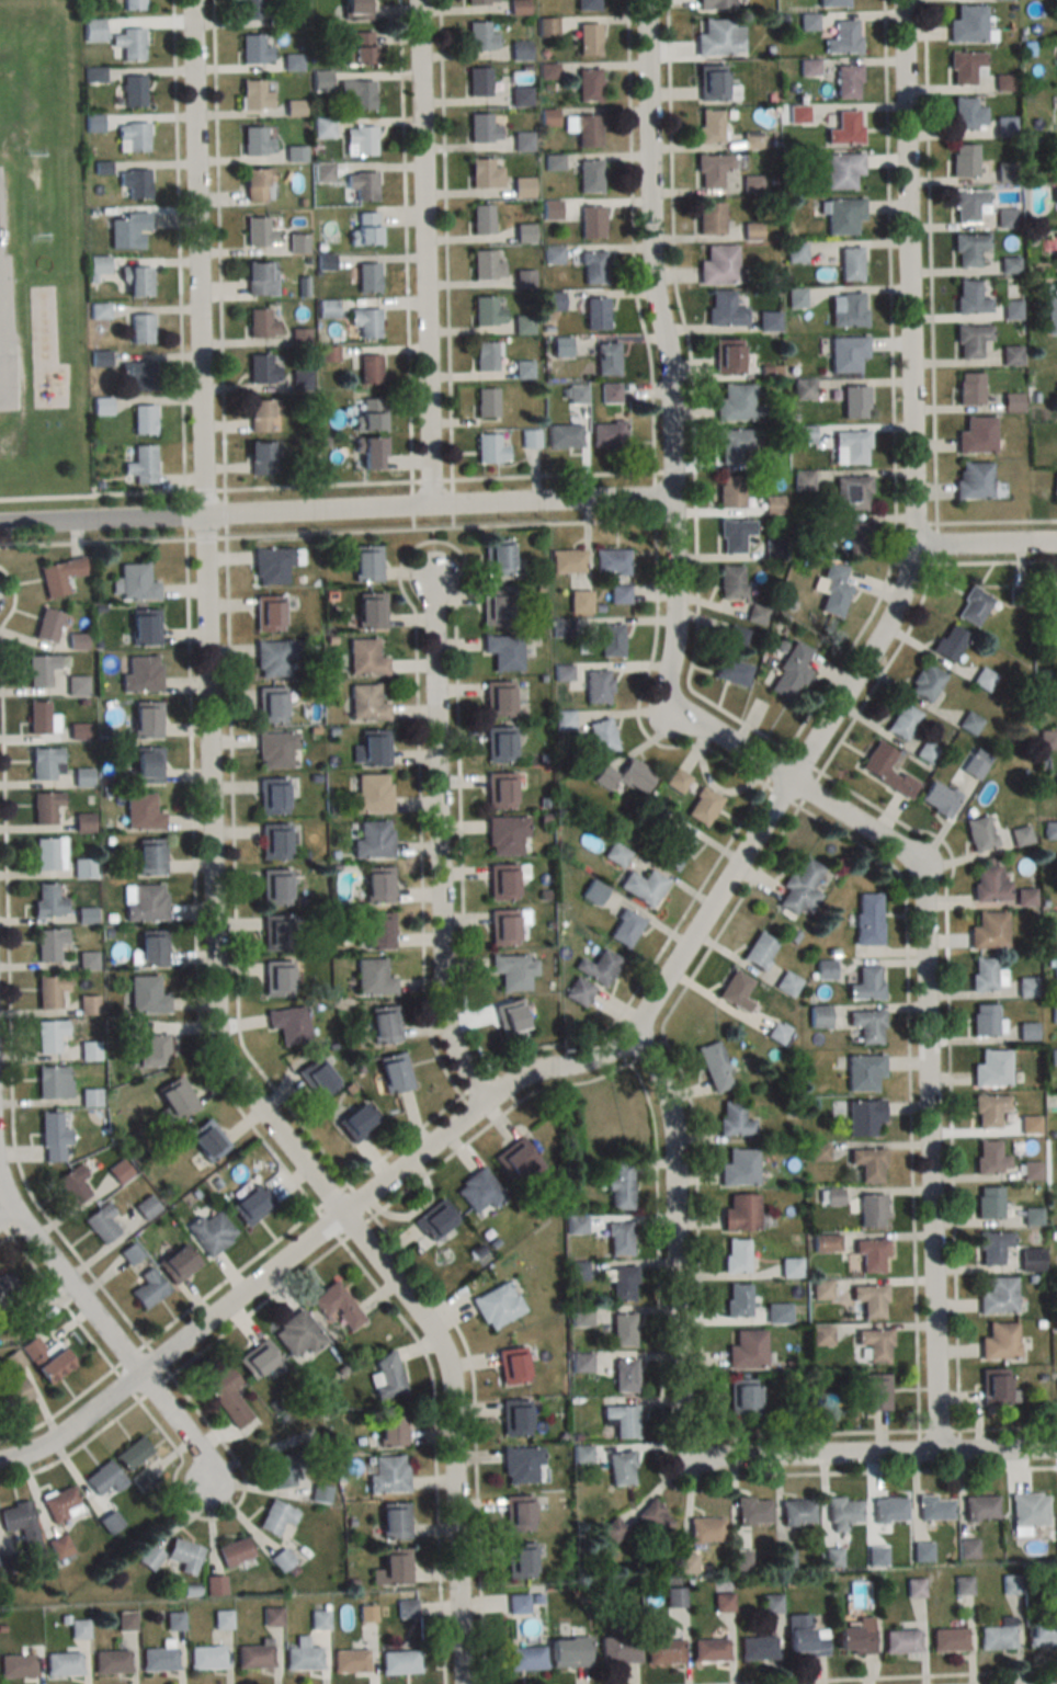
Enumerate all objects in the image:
building: (480, 1)
building: (715, 3)
building: (831, 3)
building: (132, 4)
building: (587, 4)
building: (253, 9)
building: (355, 9)
building: (966, 24)
building: (547, 27)
building: (91, 30)
building: (481, 37)
building: (720, 37)
building: (842, 37)
building: (589, 38)
building: (128, 43)
building: (357, 47)
building: (253, 49)
building: (520, 50)
building: (292, 62)
building: (962, 66)
building: (320, 81)
building: (478, 81)
building: (846, 81)
building: (711, 82)
building: (589, 86)
building: (132, 91)
building: (356, 93)
building: (254, 95)
building: (521, 96)
building: (966, 115)
building: (322, 127)
building: (709, 127)
building: (1003, 127)
building: (845, 128)
building: (482, 129)
building: (587, 129)
building: (130, 137)
building: (255, 141)
building: (359, 141)
building: (523, 141)
building: (754, 141)
building: (963, 160)
building: (553, 162)
building: (712, 170)
building: (842, 171)
building: (1004, 172)
building: (485, 174)
building: (590, 175)
building: (134, 183)
building: (752, 184)
building: (255, 185)
building: (362, 185)
building: (523, 187)
building: (1054, 195)
building: (967, 205)
building: (552, 210)
building: (843, 216)
building: (1004, 217)
building: (709, 218)
building: (481, 219)
building: (592, 220)
building: (365, 228)
building: (125, 229)
building: (257, 231)
building: (524, 232)
road: (636, 236)
road: (447, 239)
road: (407, 240)
building: (296, 243)
road: (180, 244)
road: (219, 244)
road: (424, 249)
building: (967, 249)
building: (1055, 260)
road: (932, 261)
building: (850, 263)
building: (96, 264)
building: (1008, 264)
building: (486, 265)
building: (718, 265)
building: (593, 268)
building: (367, 277)
building: (259, 278)
building: (134, 281)
building: (968, 297)
building: (1011, 308)
building: (725, 309)
building: (850, 310)
building: (488, 311)
building: (1050, 311)
building: (595, 312)
building: (769, 320)
building: (363, 322)
building: (261, 323)
building: (523, 325)
building: (139, 328)
building: (969, 340)
building: (846, 353)
building: (486, 355)
building: (1010, 355)
building: (728, 356)
building: (607, 359)
building: (261, 368)
building: (370, 368)
building: (524, 369)
building: (138, 374)
building: (803, 388)
building: (968, 388)
building: (577, 394)
building: (610, 394)
building: (486, 401)
building: (854, 401)
building: (1011, 401)
road: (694, 402)
building: (738, 403)
building: (260, 413)
building: (366, 413)
building: (143, 419)
building: (607, 433)
building: (976, 435)
building: (564, 436)
building: (531, 439)
building: (732, 444)
building: (850, 446)
building: (490, 448)
building: (368, 451)
building: (261, 456)
building: (139, 465)
road: (555, 474)
road: (433, 478)
building: (973, 480)
road: (319, 485)
building: (1054, 485)
road: (206, 489)
building: (729, 491)
building: (851, 492)
road: (657, 494)
road: (454, 502)
building: (773, 503)
road: (334, 504)
road: (413, 504)
road: (227, 512)
road: (187, 514)
road: (556, 522)
road: (998, 522)
road: (444, 526)
road: (331, 532)
road: (434, 534)
building: (734, 534)
road: (208, 537)
building: (859, 538)
road: (93, 543)
road: (939, 543)
road: (985, 546)
building: (498, 556)
building: (567, 561)
building: (611, 561)
building: (366, 562)
road: (997, 564)
building: (272, 567)
building: (59, 576)
building: (731, 581)
building: (136, 583)
building: (832, 591)
building: (620, 594)
building: (1018, 595)
building: (973, 606)
building: (496, 608)
building: (371, 611)
building: (268, 614)
building: (47, 625)
building: (144, 626)
building: (736, 635)
building: (611, 639)
building: (77, 640)
building: (948, 642)
building: (504, 651)
building: (273, 658)
building: (365, 658)
building: (39, 670)
building: (732, 670)
road: (886, 670)
building: (791, 672)
building: (141, 673)
building: (982, 679)
building: (925, 682)
building: (76, 684)
building: (598, 685)
road: (643, 694)
building: (498, 698)
building: (270, 704)
building: (366, 704)
building: (41, 718)
building: (146, 718)
building: (902, 720)
building: (969, 722)
building: (78, 730)
building: (602, 736)
building: (1047, 739)
building: (499, 744)
building: (372, 748)
building: (275, 749)
building: (927, 751)
road: (746, 753)
road: (806, 760)
road: (459, 761)
building: (44, 762)
building: (147, 764)
road: (776, 766)
building: (973, 767)
building: (886, 770)
building: (626, 775)
building: (82, 777)
road: (811, 788)
building: (500, 790)
building: (371, 794)
building: (272, 795)
road: (782, 796)
building: (695, 797)
building: (937, 798)
building: (47, 808)
building: (141, 812)
building: (655, 812)
building: (83, 822)
building: (1049, 830)
building: (979, 833)
building: (507, 834)
building: (1020, 835)
building: (373, 839)
road: (422, 841)
building: (273, 842)
road: (443, 843)
building: (674, 852)
building: (49, 853)
building: (149, 856)
building: (82, 868)
road: (237, 877)
road: (211, 879)
building: (502, 881)
building: (989, 884)
building: (377, 885)
building: (275, 887)
building: (644, 887)
building: (800, 887)
road: (721, 890)
road: (197, 891)
building: (593, 891)
building: (47, 901)
building: (144, 902)
building: (867, 919)
building: (503, 928)
building: (625, 928)
building: (379, 930)
building: (988, 931)
building: (275, 932)
building: (49, 944)
building: (151, 948)
building: (759, 951)
building: (87, 960)
road: (656, 962)
building: (599, 967)
road: (11, 969)
building: (825, 969)
building: (514, 971)
building: (985, 974)
building: (373, 977)
building: (276, 978)
building: (787, 983)
building: (866, 983)
building: (49, 991)
building: (735, 991)
building: (579, 992)
building: (147, 995)
building: (88, 1004)
building: (819, 1016)
building: (511, 1017)
building: (984, 1020)
building: (384, 1023)
building: (288, 1024)
building: (867, 1025)
building: (778, 1032)
building: (48, 1035)
building: (89, 1050)
building: (155, 1051)
road: (952, 1061)
building: (714, 1067)
building: (991, 1069)
building: (394, 1072)
building: (864, 1072)
building: (319, 1080)
building: (53, 1082)
road: (479, 1082)
road: (912, 1089)
building: (90, 1097)
road: (692, 1097)
building: (175, 1099)
building: (988, 1111)
building: (864, 1118)
road: (495, 1120)
building: (734, 1120)
building: (355, 1123)
building: (52, 1138)
road: (406, 1138)
building: (207, 1140)
building: (519, 1159)
building: (990, 1159)
building: (867, 1164)
building: (739, 1168)
building: (71, 1184)
building: (621, 1184)
building: (479, 1191)
road: (333, 1195)
road: (362, 1198)
building: (988, 1203)
building: (251, 1204)
building: (146, 1207)
building: (871, 1210)
building: (740, 1213)
road: (8, 1219)
building: (434, 1219)
building: (101, 1222)
road: (329, 1225)
road: (5, 1226)
road: (357, 1228)
building: (211, 1231)
building: (620, 1238)
road: (7, 1239)
road: (674, 1242)
building: (991, 1247)
building: (129, 1253)
building: (736, 1255)
building: (871, 1255)
building: (177, 1263)
road: (231, 1275)
building: (623, 1284)
building: (148, 1288)
building: (7, 1290)
building: (997, 1296)
building: (738, 1300)
building: (870, 1300)
road: (62, 1301)
building: (337, 1306)
building: (498, 1306)
road: (257, 1308)
building: (777, 1313)
road: (105, 1330)
building: (623, 1330)
building: (297, 1335)
building: (999, 1342)
building: (874, 1345)
building: (747, 1351)
road: (129, 1354)
road: (159, 1357)
building: (46, 1358)
building: (257, 1358)
building: (13, 1361)
building: (512, 1366)
building: (625, 1376)
building: (386, 1377)
road: (126, 1383)
building: (992, 1386)
road: (156, 1387)
building: (874, 1392)
building: (13, 1395)
building: (743, 1397)
building: (226, 1398)
road: (60, 1411)
building: (514, 1418)
building: (622, 1421)
road: (1009, 1425)
building: (391, 1429)
road: (940, 1429)
road: (810, 1432)
road: (75, 1449)
building: (133, 1453)
road: (873, 1457)
building: (521, 1465)
road: (655, 1466)
building: (621, 1469)
building: (283, 1470)
building: (388, 1475)
building: (104, 1479)
building: (141, 1479)
building: (320, 1493)
building: (61, 1504)
building: (934, 1507)
building: (979, 1507)
building: (888, 1509)
building: (1027, 1509)
building: (752, 1511)
building: (797, 1512)
building: (842, 1512)
building: (518, 1514)
building: (275, 1517)
building: (653, 1518)
building: (393, 1521)
building: (111, 1522)
building: (21, 1525)
building: (705, 1529)
building: (59, 1546)
building: (921, 1550)
building: (235, 1551)
building: (876, 1555)
building: (183, 1556)
building: (150, 1558)
building: (282, 1560)
building: (519, 1560)
building: (391, 1567)
building: (1010, 1583)
building: (963, 1584)
building: (215, 1585)
building: (914, 1586)
building: (674, 1596)
building: (723, 1602)
building: (771, 1603)
building: (406, 1607)
building: (223, 1616)
building: (174, 1620)
building: (319, 1620)
building: (1042, 1635)
building: (804, 1636)
building: (854, 1637)
building: (996, 1637)
building: (947, 1639)
building: (900, 1641)
building: (757, 1648)
building: (617, 1650)
building: (708, 1650)
building: (568, 1651)
building: (663, 1651)
building: (303, 1655)
building: (206, 1657)
building: (254, 1657)
building: (525, 1658)
building: (158, 1659)
building: (350, 1660)
building: (111, 1661)
building: (398, 1661)
building: (62, 1663)
building: (16, 1665)
road: (891, 1676)

